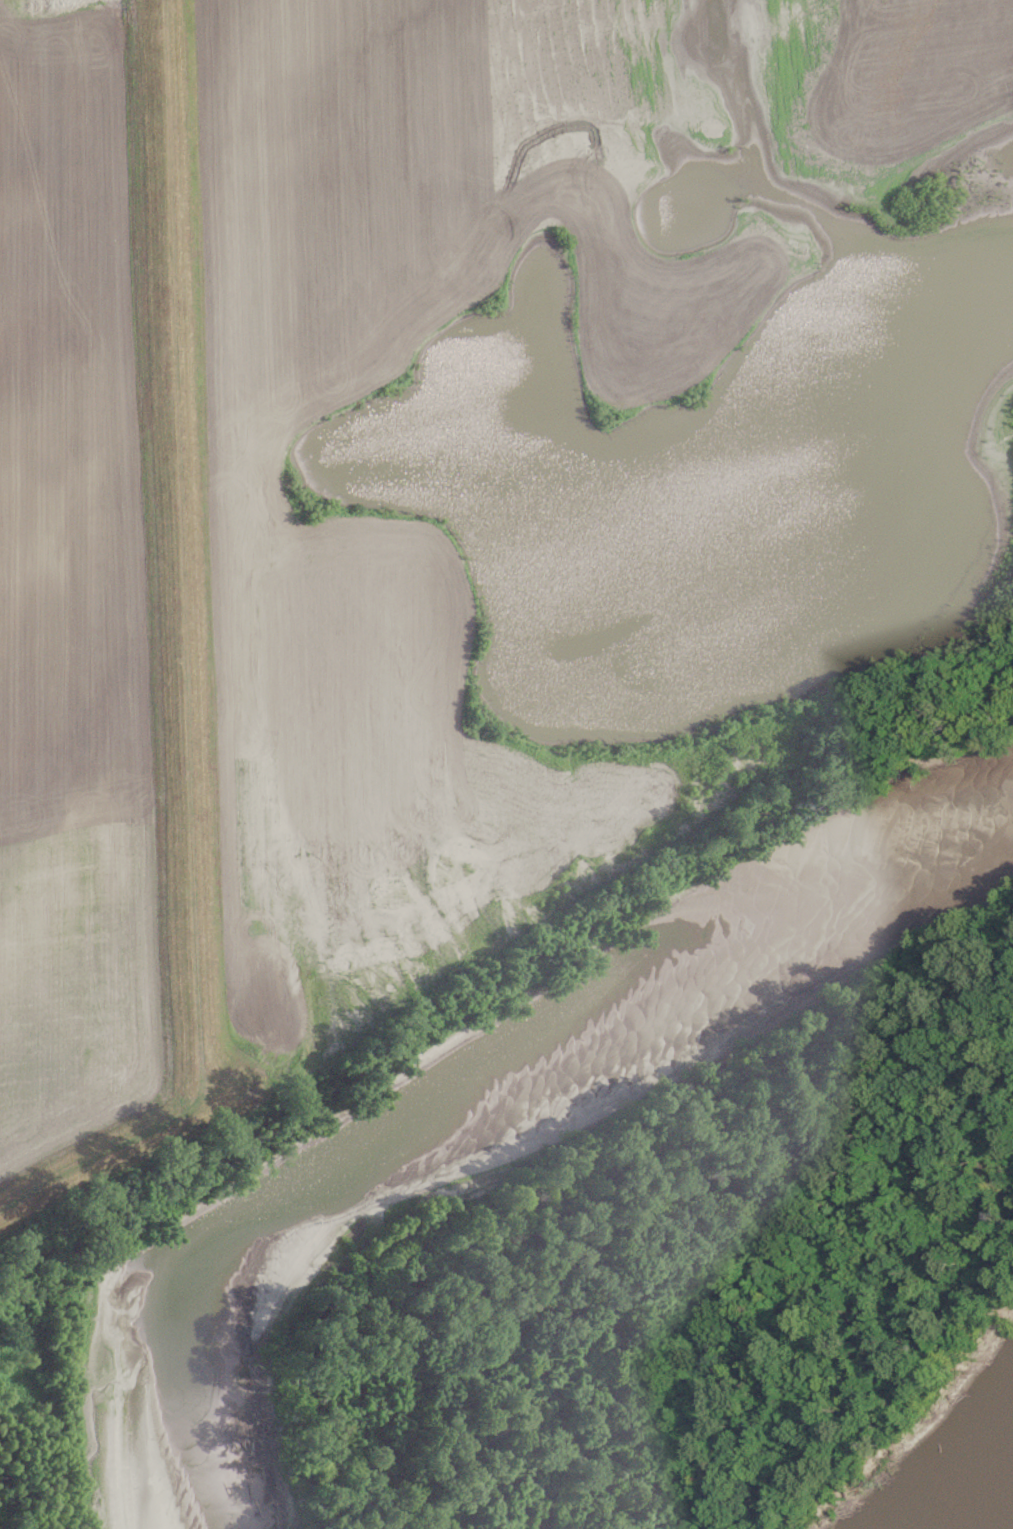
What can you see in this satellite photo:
road: (193, 669)

